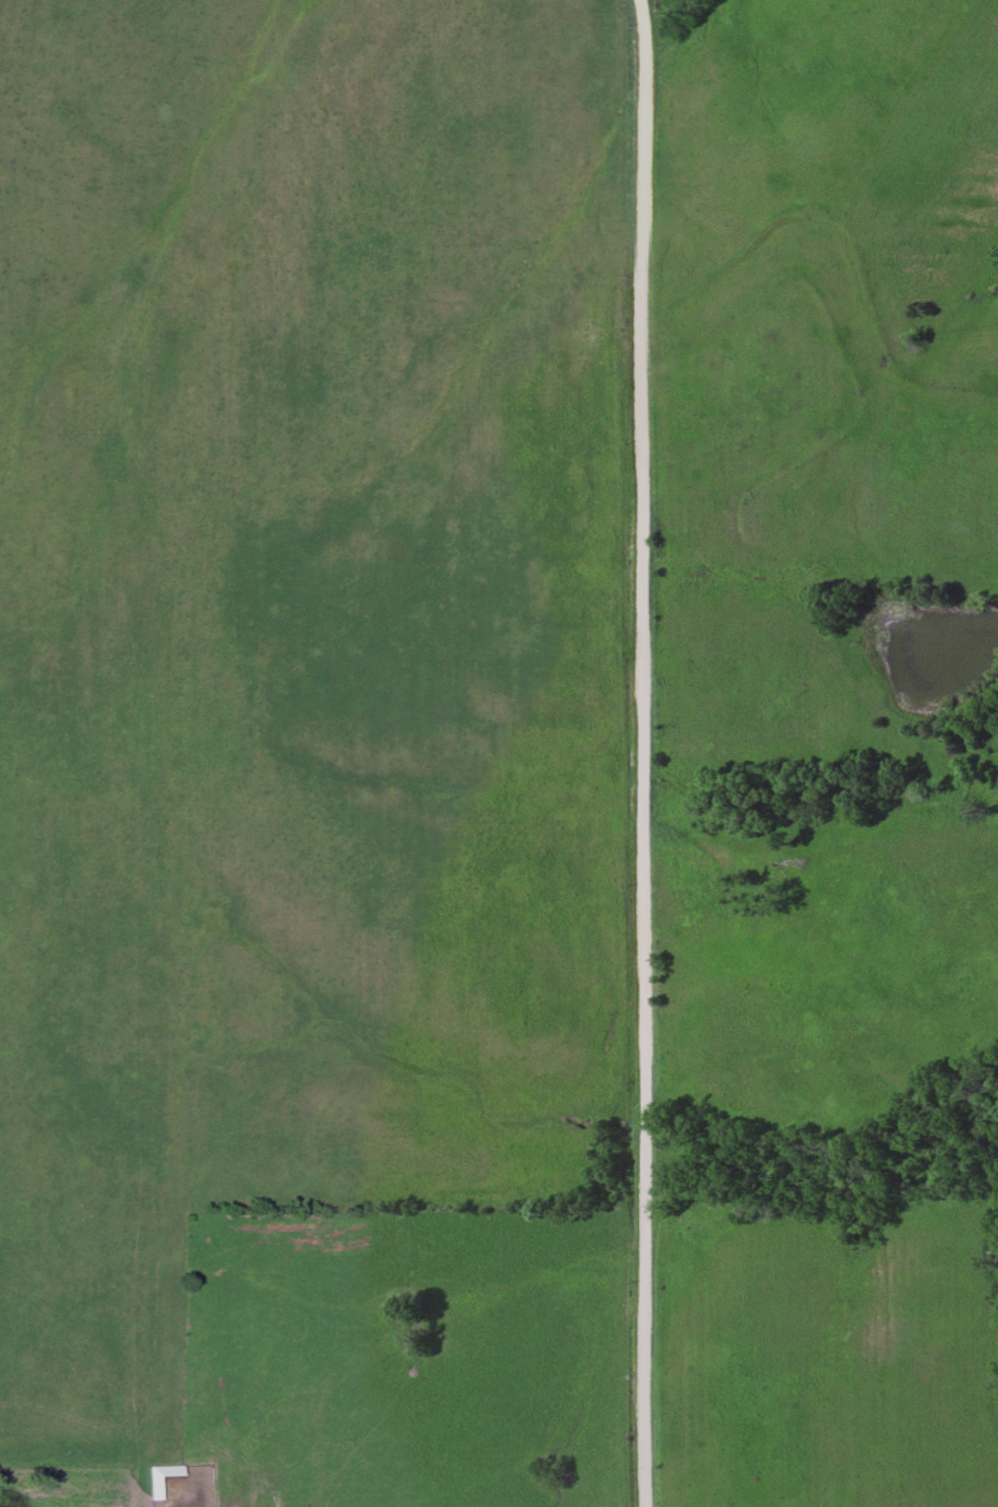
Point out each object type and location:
road: (641, 753)

